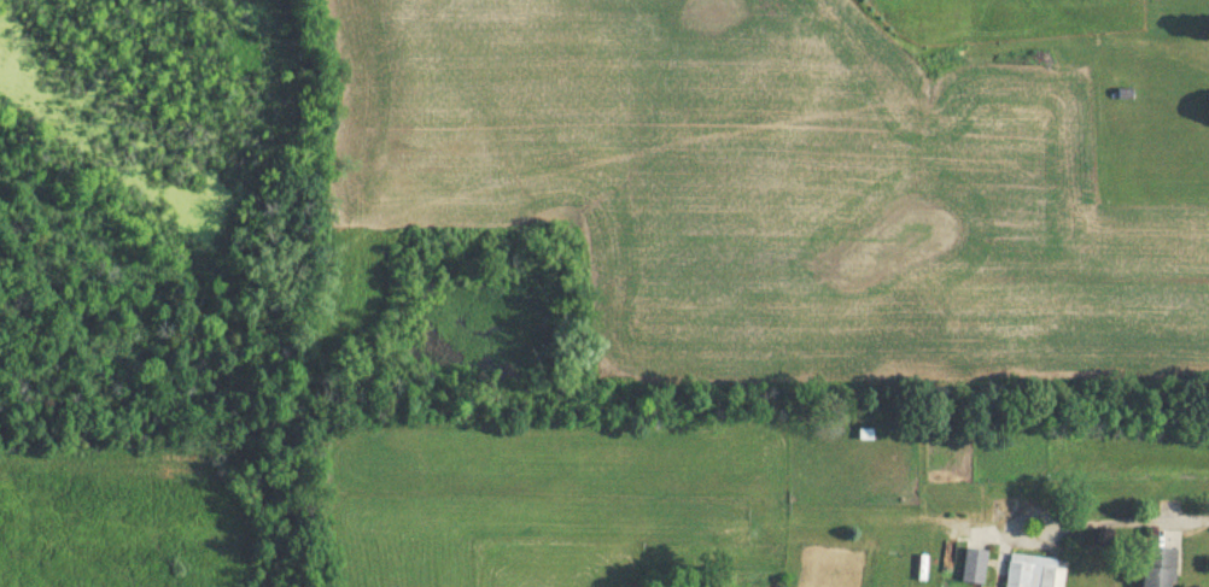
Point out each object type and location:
road: (1094, 521)
building: (975, 564)
building: (1160, 567)
building: (1035, 570)

